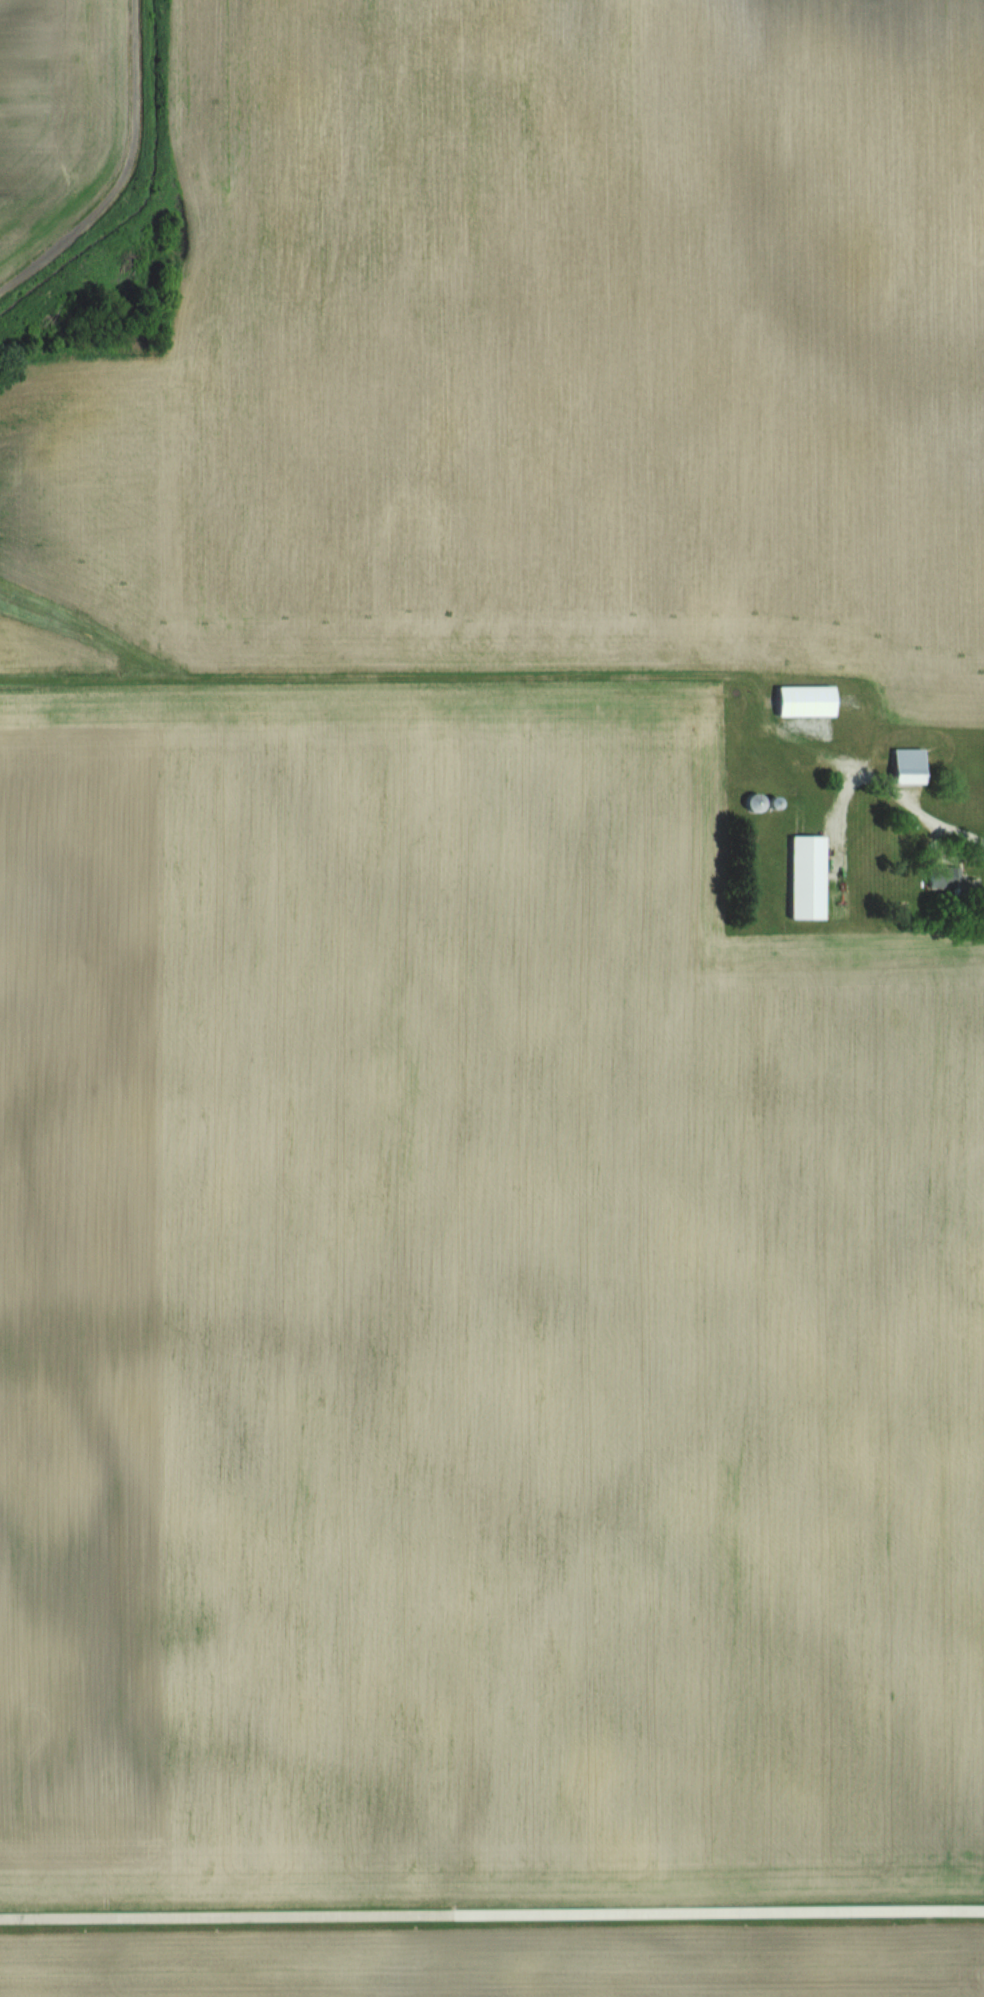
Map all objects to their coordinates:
building: (915, 764)
road: (894, 792)
building: (813, 876)
road: (491, 1912)

